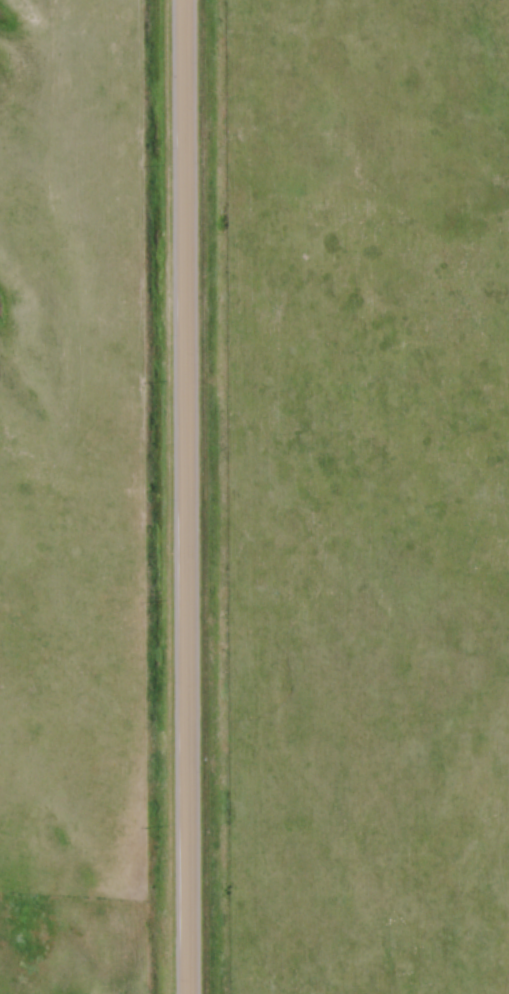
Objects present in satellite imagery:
road: (189, 497)

